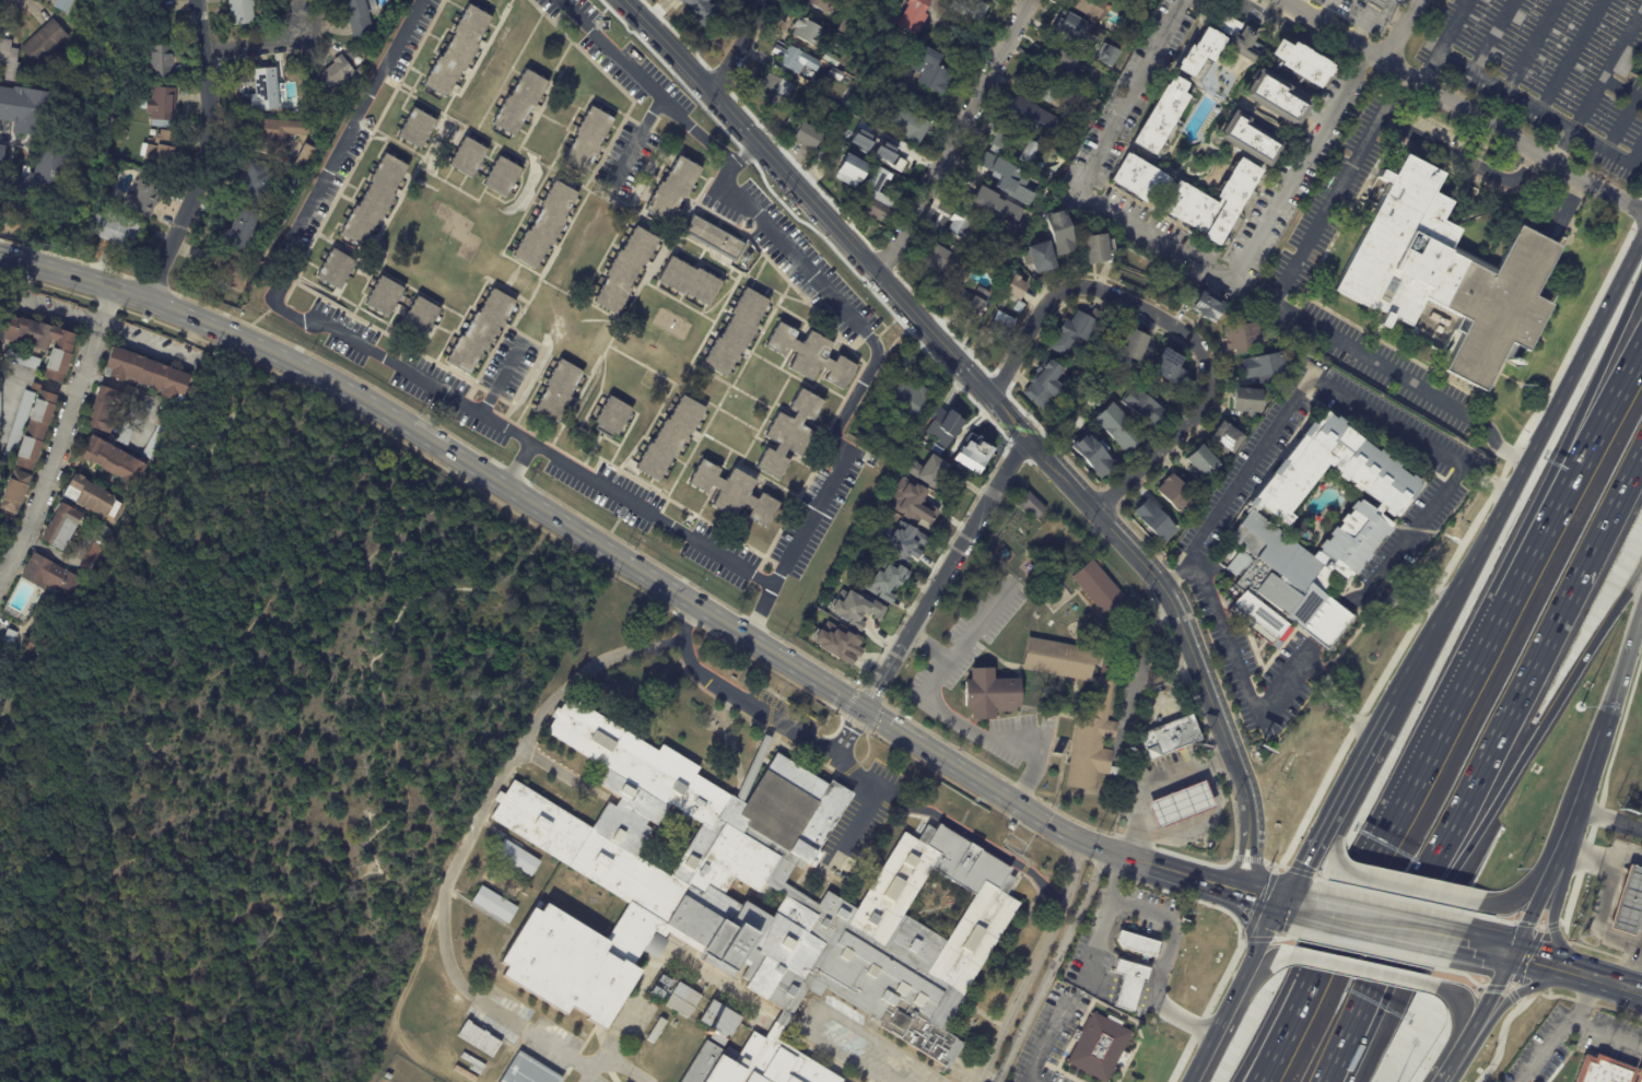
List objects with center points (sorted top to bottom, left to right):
building: (1125, 1)
building: (860, 2)
building: (1374, 2)
road: (632, 3)
building: (819, 4)
building: (66, 5)
building: (1088, 8)
building: (967, 9)
building: (701, 10)
building: (245, 12)
building: (910, 16)
building: (361, 17)
building: (1068, 25)
building: (846, 27)
building: (881, 28)
building: (807, 31)
road: (1403, 31)
building: (379, 33)
building: (1235, 38)
road: (258, 42)
building: (47, 43)
road: (737, 46)
road: (1532, 46)
building: (457, 48)
building: (1198, 54)
building: (1106, 55)
building: (829, 58)
building: (11, 59)
building: (793, 59)
building: (1063, 59)
building: (1295, 61)
building: (164, 62)
building: (1641, 66)
road: (1606, 68)
building: (361, 71)
building: (931, 71)
parking lot: (1552, 71)
building: (834, 74)
road: (1479, 75)
building: (339, 77)
road: (1409, 78)
building: (1077, 82)
building: (261, 86)
road: (1622, 87)
building: (1041, 89)
building: (771, 90)
building: (1270, 98)
building: (521, 102)
building: (164, 107)
building: (30, 110)
building: (1067, 114)
building: (1162, 115)
building: (1029, 118)
building: (904, 124)
building: (419, 128)
building: (154, 132)
building: (277, 134)
building: (806, 137)
building: (588, 138)
road: (637, 138)
road: (954, 138)
building: (1078, 138)
building: (1243, 140)
road: (1562, 144)
building: (165, 146)
building: (1001, 148)
road: (742, 151)
building: (1069, 152)
road: (1444, 152)
road: (1610, 152)
building: (892, 154)
road: (213, 156)
building: (306, 156)
building: (472, 158)
building: (4, 160)
building: (851, 169)
road: (1527, 169)
building: (50, 175)
building: (1047, 176)
building: (505, 178)
building: (1007, 178)
building: (1140, 180)
road: (1592, 183)
building: (256, 184)
building: (676, 188)
building: (982, 195)
building: (875, 197)
building: (377, 199)
building: (143, 200)
building: (1209, 203)
road: (826, 216)
building: (546, 224)
building: (961, 227)
building: (119, 230)
building: (245, 231)
building: (1058, 234)
building: (720, 239)
road: (1176, 246)
building: (1094, 249)
road: (12, 258)
building: (1034, 259)
building: (1002, 260)
building: (941, 263)
building: (337, 269)
building: (227, 270)
building: (628, 270)
building: (691, 280)
building: (1449, 281)
building: (1013, 289)
building: (385, 297)
building: (970, 302)
building: (1018, 307)
building: (1204, 307)
road: (1291, 309)
building: (421, 315)
building: (1000, 328)
road: (1172, 329)
building: (1075, 330)
building: (737, 331)
building: (483, 332)
road: (190, 337)
building: (1240, 339)
road: (141, 341)
building: (40, 342)
building: (1133, 349)
building: (812, 355)
building: (25, 358)
building: (1172, 363)
building: (1263, 367)
building: (148, 372)
road: (499, 379)
road: (35, 380)
building: (1040, 386)
road: (132, 391)
building: (561, 391)
building: (906, 393)
road: (1347, 397)
building: (1243, 403)
building: (2, 405)
building: (105, 408)
building: (1142, 408)
road: (1580, 416)
building: (613, 419)
building: (23, 423)
building: (941, 424)
building: (37, 428)
building: (1119, 430)
building: (125, 433)
building: (790, 434)
road: (61, 435)
building: (671, 437)
building: (1224, 438)
building: (975, 454)
road: (1586, 455)
building: (1091, 456)
building: (115, 461)
building: (1199, 462)
road: (517, 464)
building: (925, 468)
road: (1521, 468)
road: (1486, 480)
building: (736, 492)
building: (1176, 492)
building: (17, 494)
building: (96, 499)
building: (911, 499)
building: (1031, 506)
building: (1154, 520)
building: (63, 527)
building: (107, 531)
building: (1359, 531)
road: (964, 538)
road: (700, 542)
building: (905, 544)
road: (614, 553)
road: (58, 554)
building: (95, 555)
building: (48, 573)
building: (888, 577)
building: (1044, 581)
building: (1098, 589)
road: (1409, 597)
road: (1350, 598)
building: (856, 609)
road: (759, 610)
road: (1177, 616)
road: (1641, 619)
road: (1326, 623)
road: (977, 628)
road: (1490, 634)
building: (837, 643)
building: (9, 645)
road: (1311, 645)
building: (1056, 659)
building: (1107, 668)
road: (1239, 671)
road: (1621, 671)
road: (884, 673)
road: (1526, 678)
building: (2, 686)
road: (1136, 686)
building: (986, 693)
road: (1334, 697)
road: (754, 706)
traffic signals: (864, 707)
road: (1128, 707)
road: (963, 721)
building: (1169, 737)
building: (1091, 741)
road: (1530, 742)
road: (558, 771)
road: (1187, 774)
road: (1148, 778)
road: (1172, 780)
road: (1159, 786)
road: (1196, 797)
road: (1337, 798)
road: (1580, 802)
road: (1181, 803)
building: (1176, 804)
road: (1166, 809)
road: (1610, 815)
road: (1204, 816)
road: (857, 823)
road: (1188, 823)
road: (1204, 824)
road: (949, 826)
road: (1174, 828)
parking lot: (848, 840)
road: (462, 848)
road: (1321, 848)
road: (1379, 852)
building: (515, 858)
road: (1240, 859)
road: (1604, 860)
road: (1252, 861)
road: (1111, 878)
road: (1239, 878)
road: (1394, 885)
building: (525, 892)
road: (1232, 899)
traffic signals: (1282, 901)
road: (1511, 902)
building: (1628, 902)
gas station: (1628, 902)
road: (1290, 903)
building: (746, 904)
building: (492, 905)
road: (1327, 912)
road: (1536, 915)
road: (1552, 915)
road: (1248, 924)
road: (1391, 927)
road: (1172, 936)
building: (1136, 942)
road: (1262, 942)
road: (1465, 944)
road: (1088, 953)
road: (1639, 953)
road: (1511, 955)
traffic signals: (1517, 957)
road: (1632, 961)
road: (1034, 962)
road: (1044, 965)
road: (1263, 966)
road: (1550, 966)
road: (1353, 971)
building: (1130, 984)
road: (1612, 984)
road: (1129, 991)
road: (1515, 992)
road: (1369, 997)
road: (1491, 999)
building: (679, 1000)
road: (1585, 1000)
road: (1454, 1008)
building: (668, 1014)
road: (828, 1016)
road: (1182, 1018)
building: (717, 1021)
parking lot: (519, 1027)
building: (656, 1031)
road: (1217, 1032)
road: (1607, 1033)
road: (1269, 1037)
building: (481, 1038)
road: (1283, 1038)
parking lot: (864, 1046)
road: (1043, 1046)
building: (1096, 1047)
road: (1463, 1048)
road: (1547, 1050)
road: (617, 1062)
building: (473, 1063)
road: (1452, 1068)
building: (1605, 1070)
building: (525, 1071)
building: (390, 1077)
road: (987, 1078)
park: (380, 1080)
parking lot: (595, 1080)
road: (1193, 1081)

